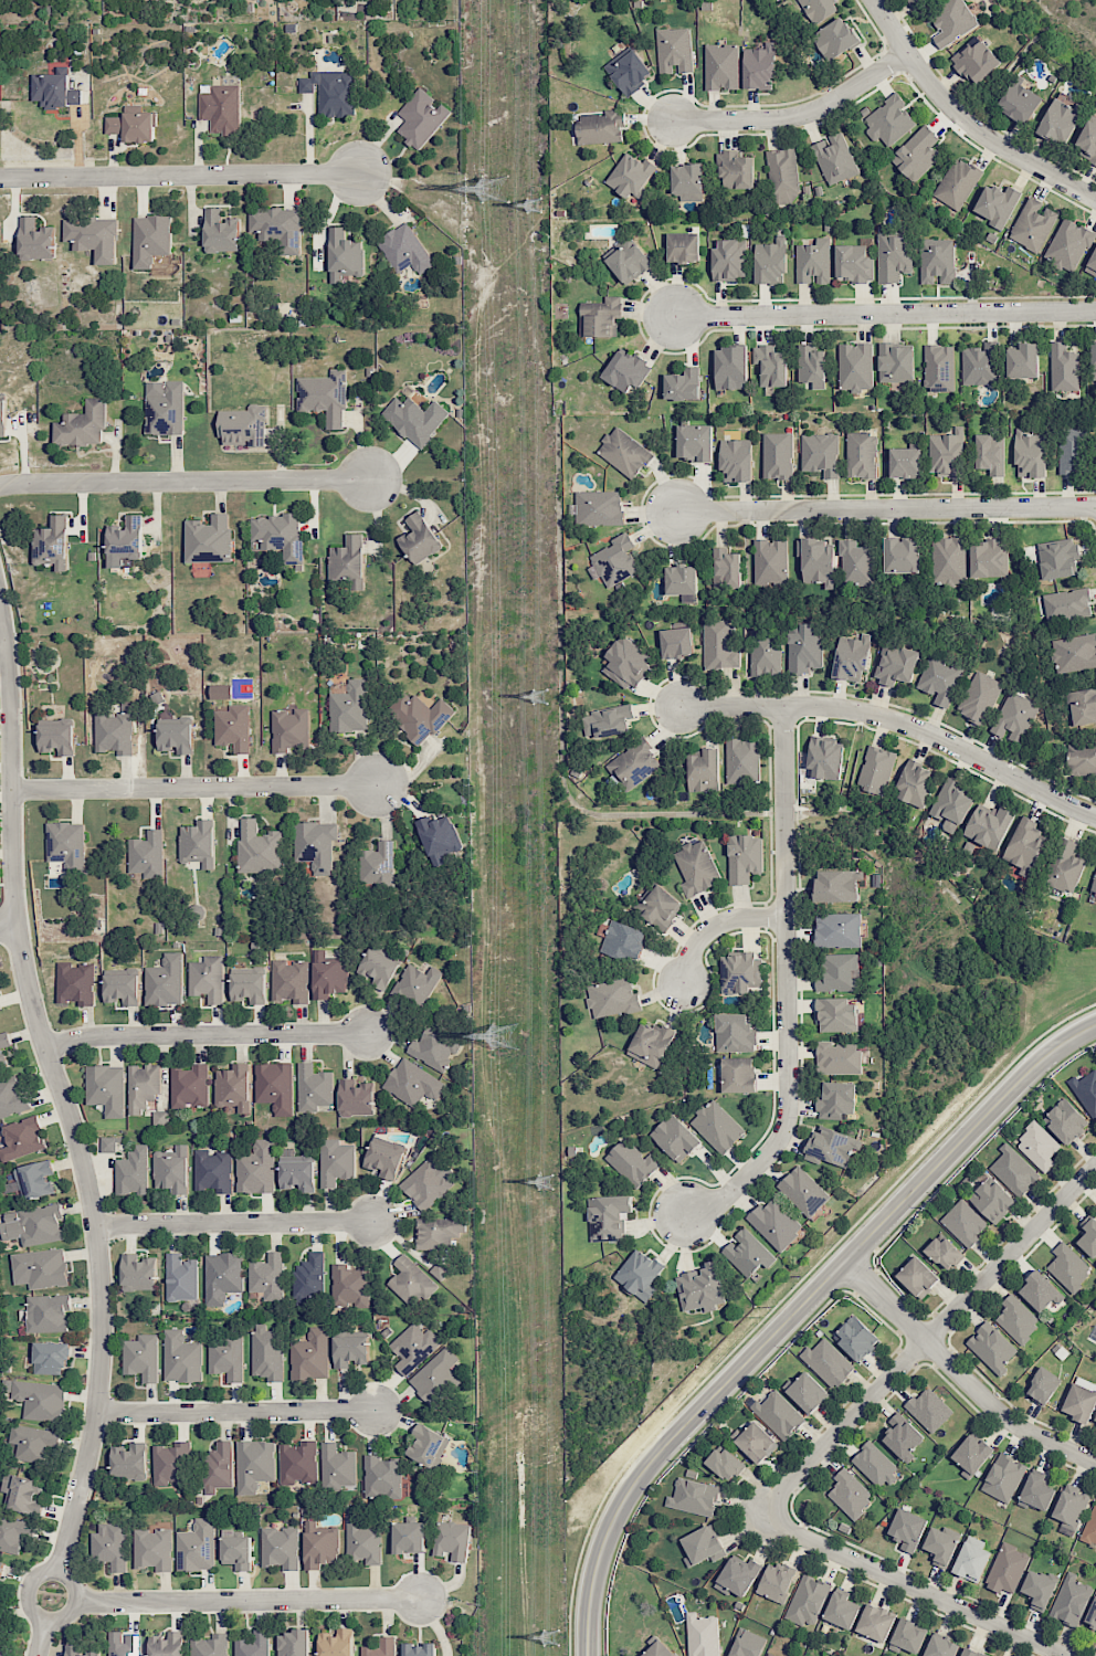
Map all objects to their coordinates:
building: (916, 2)
building: (819, 9)
building: (952, 21)
building: (835, 38)
building: (674, 51)
building: (974, 62)
building: (721, 66)
building: (759, 66)
building: (629, 71)
building: (55, 91)
building: (330, 92)
building: (1019, 98)
building: (220, 107)
road: (797, 114)
building: (420, 118)
building: (889, 120)
road: (965, 120)
building: (1058, 122)
building: (133, 126)
building: (600, 127)
building: (916, 154)
building: (834, 158)
building: (735, 170)
road: (180, 175)
building: (630, 176)
building: (783, 176)
building: (687, 181)
building: (957, 183)
power tower: (489, 189)
power tower: (531, 203)
building: (997, 204)
building: (1032, 224)
building: (277, 228)
building: (221, 232)
building: (93, 236)
building: (150, 239)
building: (35, 240)
building: (1068, 245)
building: (683, 247)
building: (404, 250)
building: (344, 255)
building: (893, 256)
building: (729, 260)
building: (937, 261)
building: (813, 262)
building: (1092, 262)
building: (770, 263)
building: (853, 263)
road: (882, 312)
building: (600, 317)
building: (1093, 360)
building: (1023, 361)
building: (895, 363)
building: (811, 365)
building: (980, 365)
building: (770, 366)
building: (855, 367)
building: (730, 368)
building: (939, 368)
building: (1063, 368)
building: (624, 370)
building: (682, 384)
building: (324, 397)
building: (164, 408)
building: (2, 418)
building: (415, 419)
building: (82, 425)
building: (243, 425)
building: (694, 442)
building: (1071, 451)
building: (624, 453)
building: (946, 453)
building: (990, 453)
building: (1030, 453)
building: (820, 454)
building: (777, 455)
building: (861, 455)
building: (736, 460)
building: (905, 462)
road: (185, 481)
building: (599, 507)
road: (885, 507)
building: (278, 536)
building: (209, 539)
building: (419, 539)
building: (125, 541)
building: (52, 544)
building: (902, 555)
building: (989, 558)
building: (1058, 558)
building: (614, 560)
building: (949, 560)
building: (770, 561)
building: (816, 561)
building: (347, 562)
building: (854, 563)
building: (726, 568)
building: (681, 580)
building: (1066, 605)
building: (676, 643)
building: (719, 644)
building: (804, 648)
building: (765, 653)
building: (1075, 653)
building: (851, 657)
building: (626, 662)
building: (895, 664)
building: (939, 678)
power tower: (541, 697)
building: (978, 697)
building: (1083, 706)
building: (349, 707)
building: (420, 716)
building: (1013, 717)
building: (607, 720)
road: (898, 720)
building: (233, 728)
building: (289, 730)
building: (114, 732)
building: (176, 734)
building: (56, 736)
building: (825, 757)
building: (1082, 759)
building: (742, 761)
building: (632, 766)
building: (875, 770)
building: (704, 771)
building: (915, 783)
road: (193, 788)
building: (950, 805)
building: (989, 826)
building: (440, 838)
building: (198, 843)
building: (66, 845)
building: (315, 845)
building: (1024, 845)
building: (259, 848)
building: (147, 854)
building: (745, 859)
building: (377, 864)
building: (696, 867)
building: (1066, 868)
building: (837, 885)
building: (1094, 886)
building: (658, 906)
road: (717, 924)
road: (8, 925)
building: (837, 930)
building: (623, 941)
building: (378, 968)
building: (740, 972)
building: (839, 972)
building: (327, 975)
building: (207, 978)
building: (165, 981)
building: (289, 981)
building: (75, 983)
building: (415, 984)
road: (787, 984)
building: (122, 985)
building: (249, 987)
building: (611, 998)
building: (0, 1008)
building: (836, 1015)
building: (735, 1032)
road: (204, 1034)
power tower: (512, 1037)
building: (3, 1044)
building: (651, 1044)
building: (434, 1047)
building: (837, 1057)
building: (738, 1075)
building: (412, 1083)
building: (189, 1086)
building: (275, 1086)
building: (141, 1087)
building: (233, 1087)
building: (313, 1087)
building: (106, 1088)
building: (1086, 1090)
road: (60, 1094)
building: (11, 1097)
building: (355, 1098)
building: (836, 1100)
building: (159, 1118)
building: (1065, 1121)
building: (717, 1126)
building: (21, 1138)
building: (675, 1138)
building: (108, 1145)
building: (831, 1146)
building: (1037, 1146)
building: (383, 1159)
building: (335, 1162)
building: (632, 1162)
building: (256, 1168)
building: (171, 1169)
building: (212, 1170)
building: (296, 1170)
building: (1013, 1170)
building: (133, 1172)
building: (34, 1180)
power tower: (544, 1180)
building: (425, 1183)
building: (802, 1191)
building: (991, 1198)
building: (608, 1216)
building: (963, 1222)
road: (232, 1223)
building: (774, 1223)
building: (33, 1224)
building: (436, 1232)
building: (1089, 1237)
building: (747, 1253)
building: (942, 1253)
building: (1068, 1267)
building: (40, 1268)
building: (439, 1270)
building: (138, 1273)
building: (639, 1274)
building: (267, 1276)
building: (180, 1277)
building: (222, 1277)
building: (917, 1277)
building: (308, 1278)
building: (410, 1281)
building: (349, 1286)
building: (700, 1288)
building: (1041, 1293)
road: (794, 1311)
building: (46, 1312)
building: (1016, 1319)
building: (349, 1332)
building: (855, 1337)
road: (927, 1339)
building: (413, 1347)
building: (991, 1347)
building: (349, 1351)
building: (266, 1352)
building: (309, 1356)
building: (141, 1357)
building: (181, 1357)
building: (51, 1358)
building: (225, 1358)
building: (828, 1362)
road: (960, 1375)
building: (436, 1377)
building: (1043, 1385)
building: (807, 1392)
building: (40, 1400)
building: (1079, 1402)
building: (928, 1410)
road: (234, 1412)
building: (778, 1414)
building: (1095, 1421)
building: (903, 1436)
building: (32, 1443)
building: (756, 1443)
building: (426, 1445)
building: (971, 1455)
building: (130, 1460)
building: (297, 1462)
building: (170, 1464)
building: (724, 1464)
building: (253, 1465)
building: (875, 1465)
building: (218, 1467)
building: (337, 1467)
building: (1003, 1477)
building: (383, 1478)
building: (1036, 1491)
building: (22, 1494)
building: (693, 1497)
building: (1071, 1506)
building: (1090, 1527)
building: (907, 1529)
building: (13, 1533)
building: (409, 1537)
building: (452, 1539)
building: (362, 1541)
building: (941, 1544)
building: (110, 1546)
building: (319, 1546)
building: (703, 1546)
building: (197, 1547)
building: (280, 1548)
building: (154, 1549)
building: (235, 1550)
building: (971, 1559)
building: (0, 1564)
building: (1007, 1569)
building: (737, 1576)
building: (776, 1581)
road: (914, 1585)
road: (28, 1590)
building: (1039, 1590)
building: (1071, 1599)
building: (807, 1600)
road: (247, 1601)
building: (841, 1610)
building: (1092, 1614)
building: (875, 1622)
building: (702, 1635)
building: (906, 1636)
road: (42, 1638)
power tower: (550, 1639)
building: (293, 1643)
building: (336, 1643)
building: (124, 1644)
building: (167, 1644)
building: (252, 1644)
building: (747, 1644)
building: (211, 1646)
building: (380, 1647)
building: (940, 1647)
building: (2, 1649)
building: (419, 1649)
building: (658, 1649)
building: (78, 1650)
building: (971, 1653)
building: (769, 1654)

